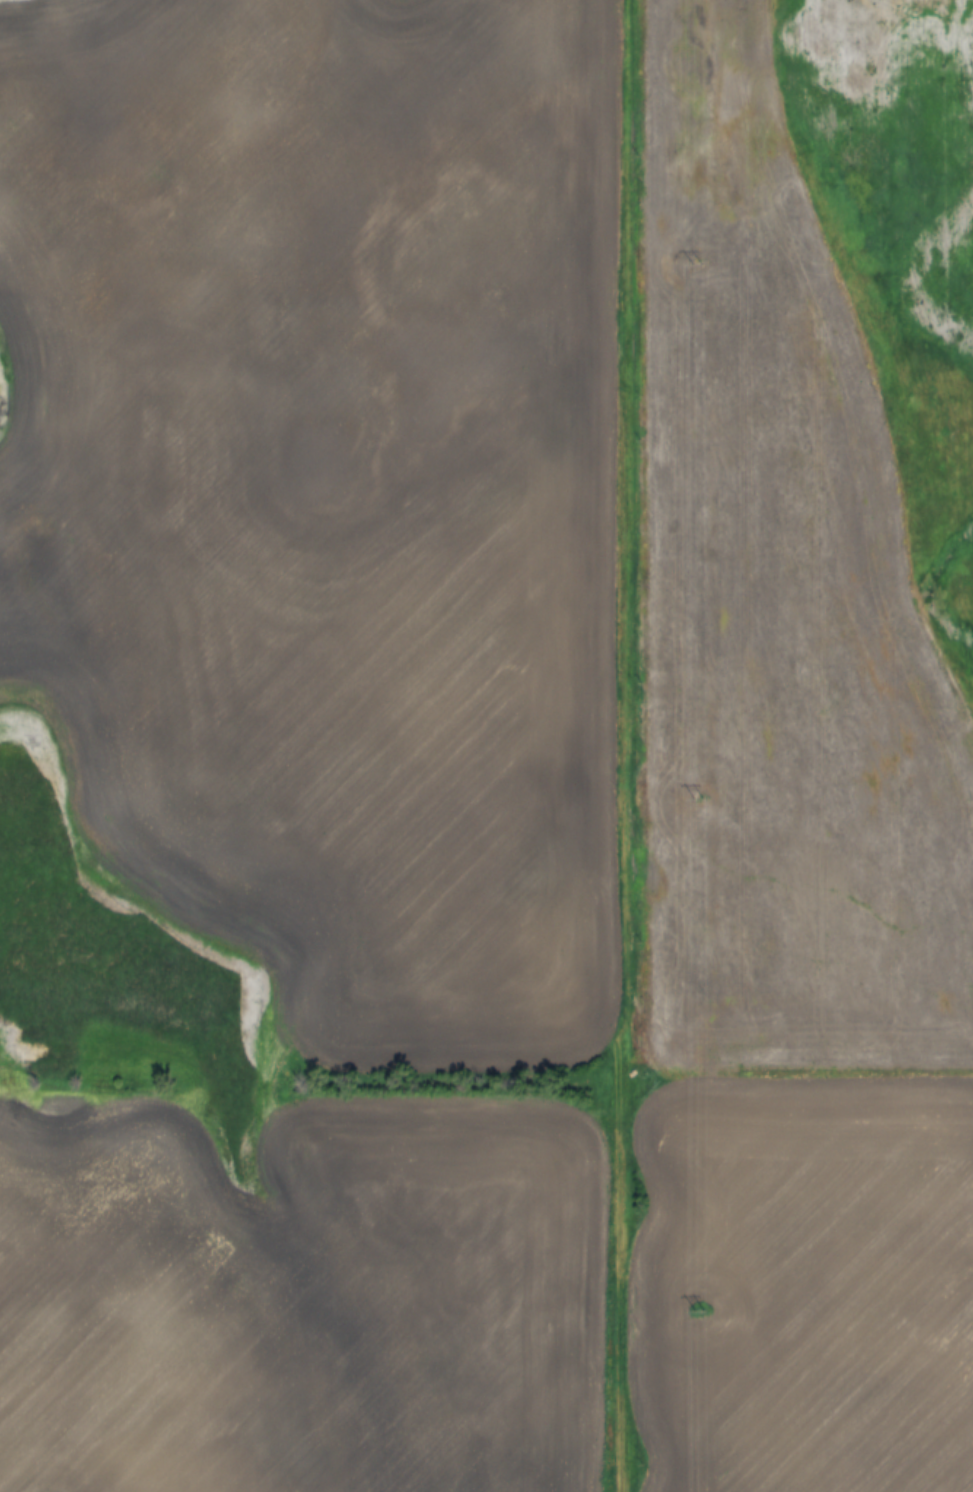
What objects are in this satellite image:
power tower: (694, 265)
road: (626, 745)
power tower: (697, 799)
power tower: (697, 1311)

